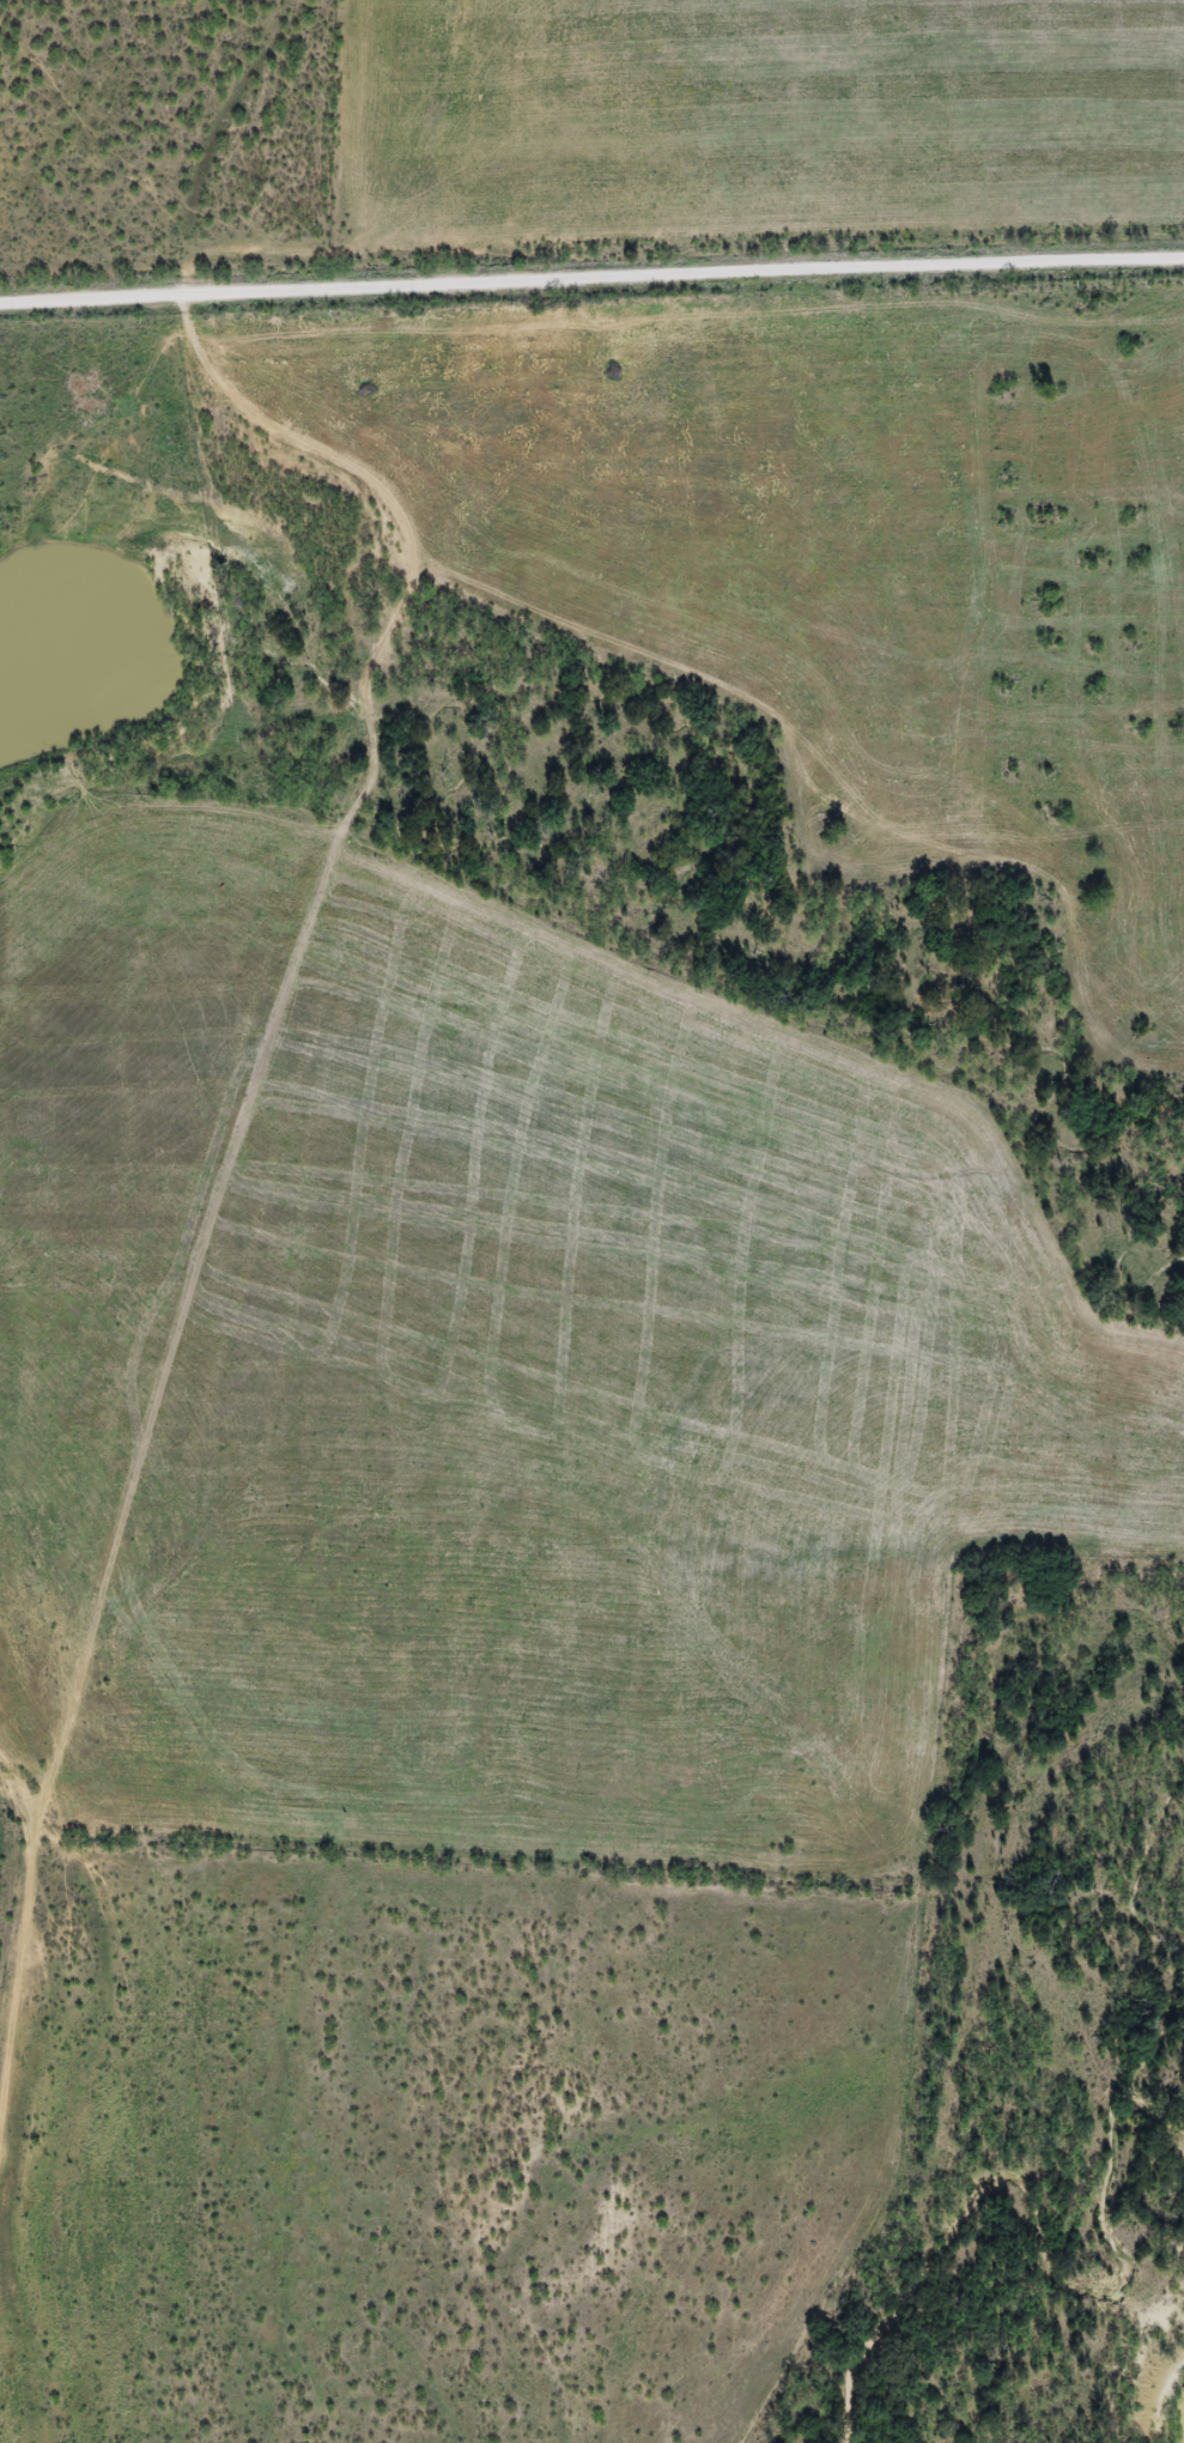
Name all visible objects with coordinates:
road: (591, 292)

